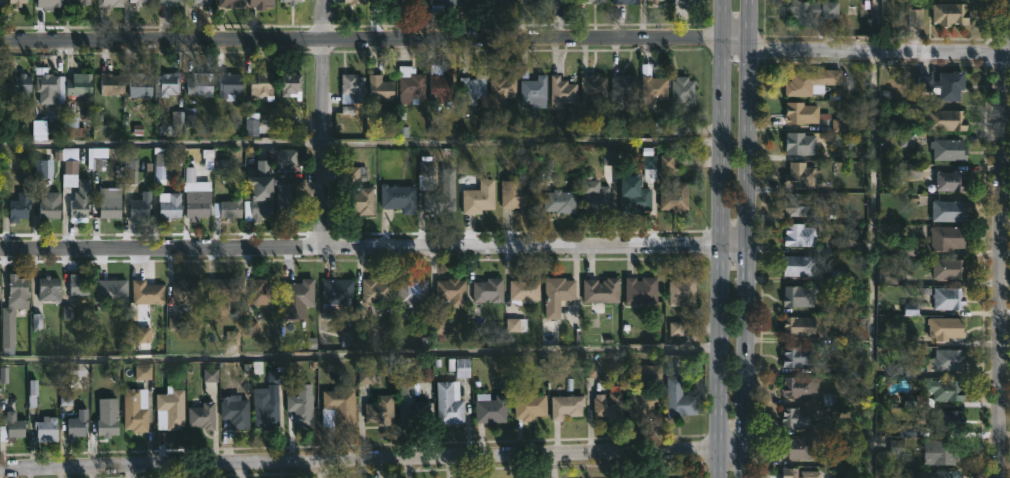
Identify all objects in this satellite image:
building: (476, 0)
building: (542, 0)
building: (598, 0)
building: (953, 0)
building: (66, 1)
building: (291, 1)
building: (354, 1)
building: (384, 1)
building: (415, 1)
building: (534, 1)
building: (564, 1)
building: (626, 1)
building: (17, 2)
building: (81, 2)
building: (138, 2)
building: (171, 2)
building: (202, 2)
building: (504, 2)
building: (655, 2)
building: (686, 2)
building: (1, 3)
building: (110, 3)
building: (231, 3)
building: (260, 3)
building: (49, 4)
building: (440, 4)
building: (814, 10)
building: (950, 13)
building: (916, 19)
road: (362, 38)
road: (737, 42)
road: (879, 49)
road: (872, 62)
building: (812, 82)
building: (112, 83)
building: (201, 84)
building: (291, 84)
building: (0, 85)
building: (79, 85)
building: (167, 85)
building: (230, 85)
building: (260, 85)
building: (474, 85)
building: (945, 85)
building: (139, 86)
building: (411, 86)
building: (441, 86)
building: (653, 86)
building: (46, 87)
building: (624, 87)
building: (19, 88)
building: (353, 88)
building: (380, 88)
building: (594, 88)
building: (534, 89)
building: (502, 90)
building: (562, 90)
building: (684, 90)
building: (909, 109)
building: (802, 113)
building: (946, 119)
road: (325, 123)
building: (838, 125)
building: (905, 140)
road: (361, 142)
building: (802, 143)
building: (950, 149)
building: (160, 164)
building: (130, 165)
building: (70, 167)
building: (43, 169)
building: (910, 170)
building: (425, 173)
building: (801, 176)
building: (952, 181)
building: (442, 195)
building: (518, 196)
building: (636, 196)
building: (479, 197)
building: (595, 197)
building: (676, 197)
building: (399, 198)
building: (257, 199)
building: (285, 200)
building: (360, 200)
building: (80, 201)
building: (560, 202)
building: (200, 204)
building: (48, 205)
building: (170, 205)
building: (800, 205)
building: (141, 207)
building: (109, 208)
building: (229, 208)
building: (18, 209)
building: (949, 211)
building: (801, 235)
building: (947, 237)
road: (872, 238)
road: (1000, 238)
road: (723, 239)
road: (748, 239)
road: (735, 244)
road: (361, 246)
building: (800, 266)
building: (950, 268)
building: (836, 276)
building: (886, 276)
building: (78, 285)
building: (48, 288)
building: (525, 289)
building: (641, 289)
building: (187, 290)
building: (376, 290)
building: (488, 290)
building: (602, 290)
building: (260, 291)
building: (683, 291)
building: (146, 292)
building: (222, 292)
building: (112, 293)
building: (451, 293)
building: (412, 295)
building: (558, 295)
building: (336, 296)
building: (799, 296)
building: (297, 298)
building: (947, 298)
building: (13, 306)
building: (800, 326)
building: (947, 328)
road: (360, 354)
building: (800, 357)
building: (944, 361)
building: (460, 367)
building: (648, 372)
building: (144, 374)
building: (210, 379)
building: (800, 386)
building: (946, 389)
building: (679, 399)
building: (828, 399)
building: (450, 403)
building: (609, 403)
building: (412, 404)
building: (643, 404)
building: (300, 406)
building: (567, 406)
building: (530, 407)
building: (338, 408)
building: (491, 408)
building: (170, 409)
building: (380, 409)
building: (135, 410)
building: (236, 412)
building: (266, 412)
building: (202, 415)
building: (799, 417)
building: (946, 420)
building: (77, 425)
building: (107, 425)
building: (45, 428)
building: (906, 430)
building: (12, 431)
building: (797, 449)
road: (731, 450)
building: (943, 451)
road: (358, 456)
road: (319, 467)
building: (798, 474)
building: (941, 474)
building: (841, 477)

